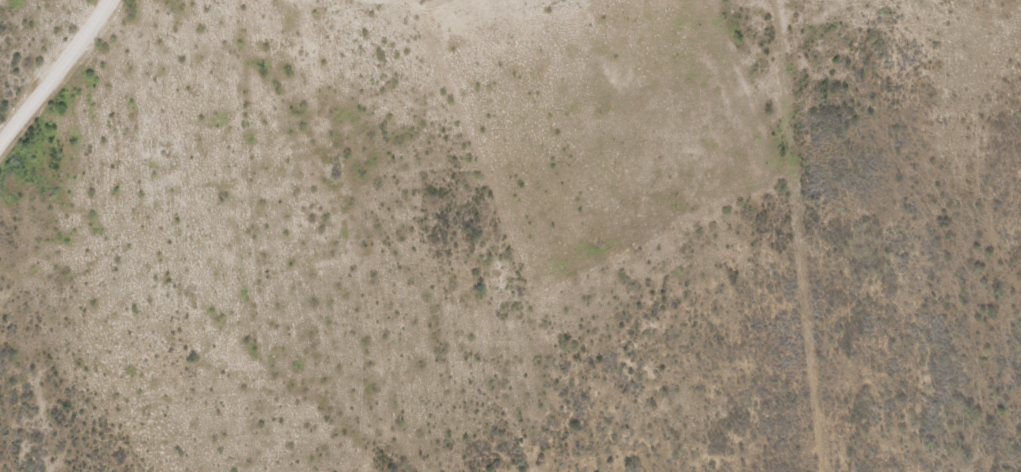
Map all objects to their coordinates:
road: (54, 70)

